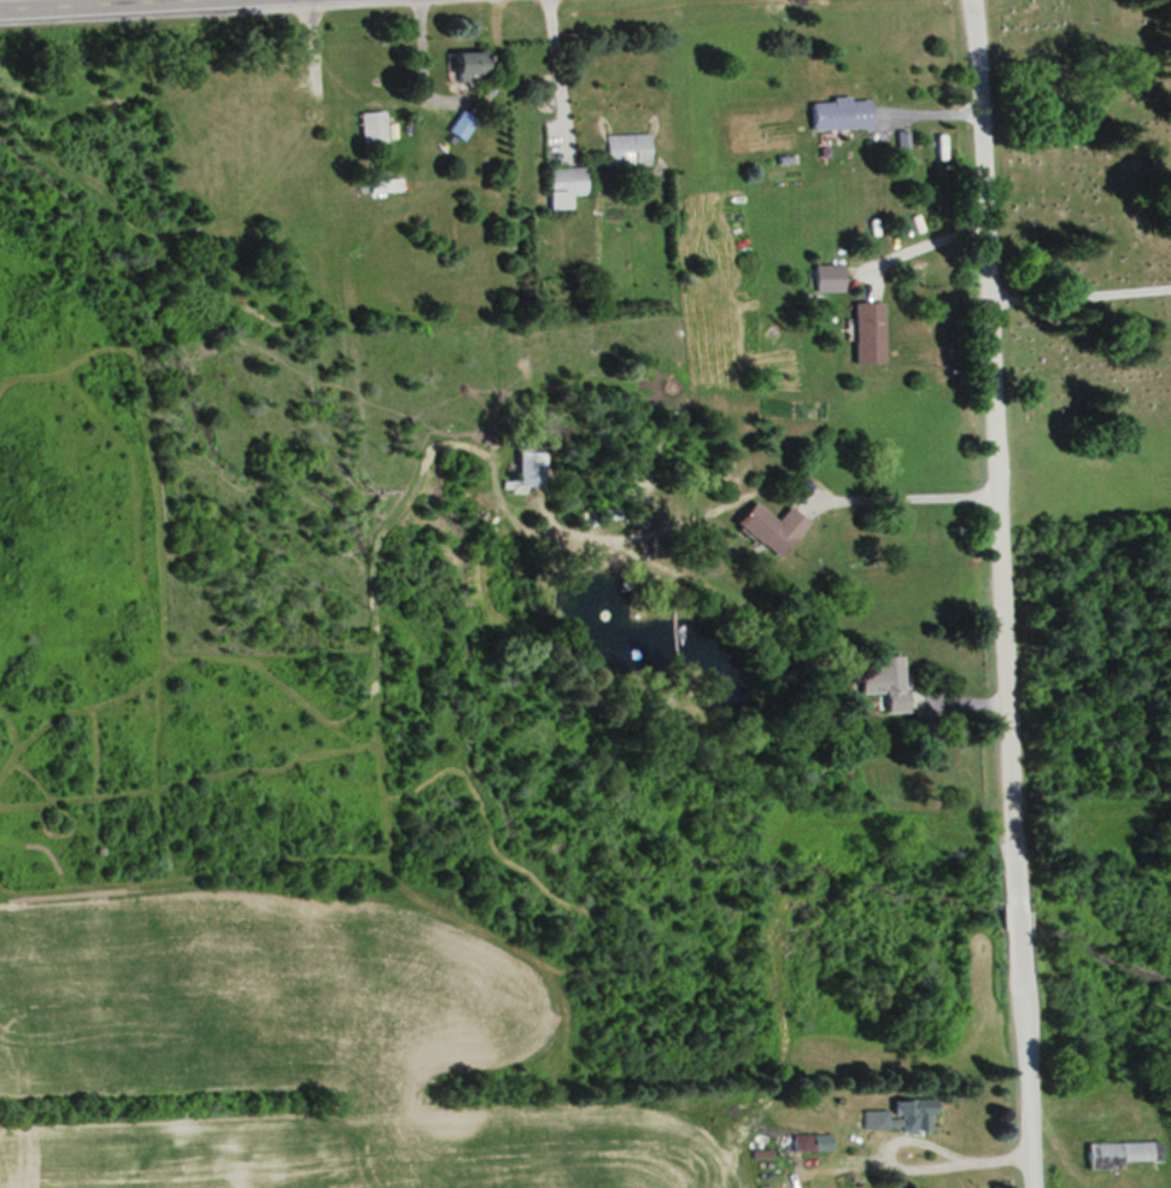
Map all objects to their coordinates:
road: (72, 4)
building: (470, 65)
building: (842, 113)
building: (374, 123)
building: (630, 148)
building: (568, 183)
building: (826, 276)
road: (1075, 289)
building: (870, 332)
building: (531, 470)
building: (772, 526)
road: (995, 593)
building: (889, 680)
building: (902, 1117)
building: (1117, 1153)

